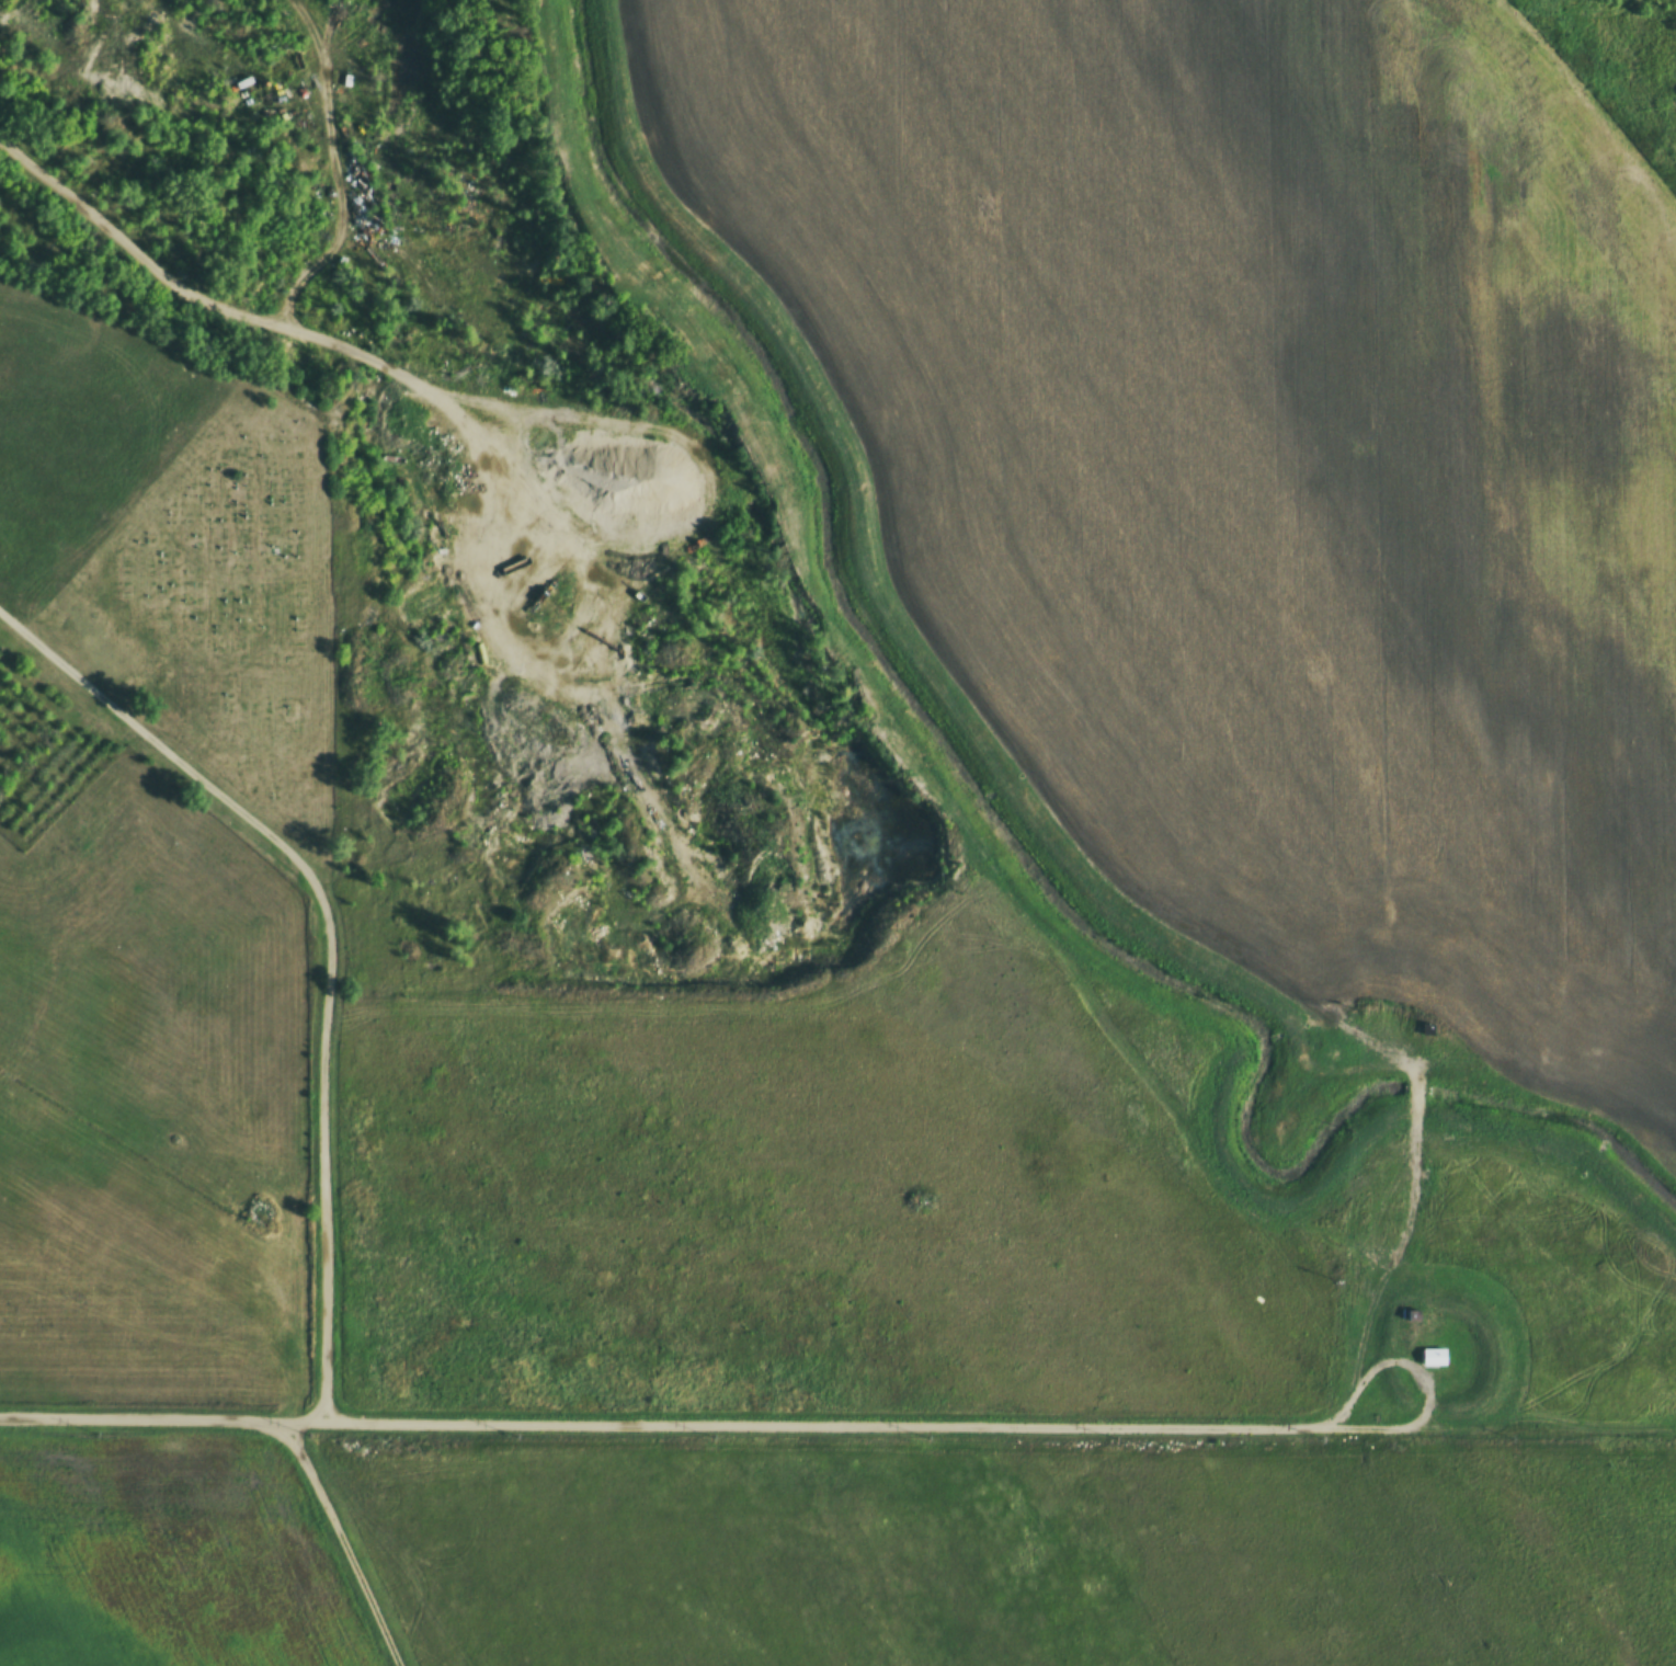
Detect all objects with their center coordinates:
road: (338, 170)
building: (424, 255)
road: (202, 301)
park: (220, 612)
road: (158, 743)
road: (322, 1151)
building: (1434, 1357)
road: (666, 1425)
road: (342, 1543)

